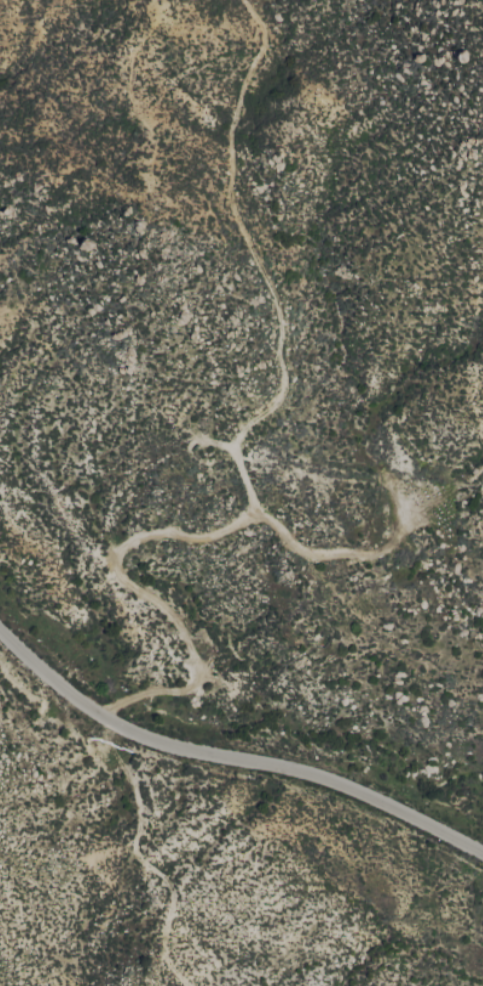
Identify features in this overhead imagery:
road: (231, 760)

